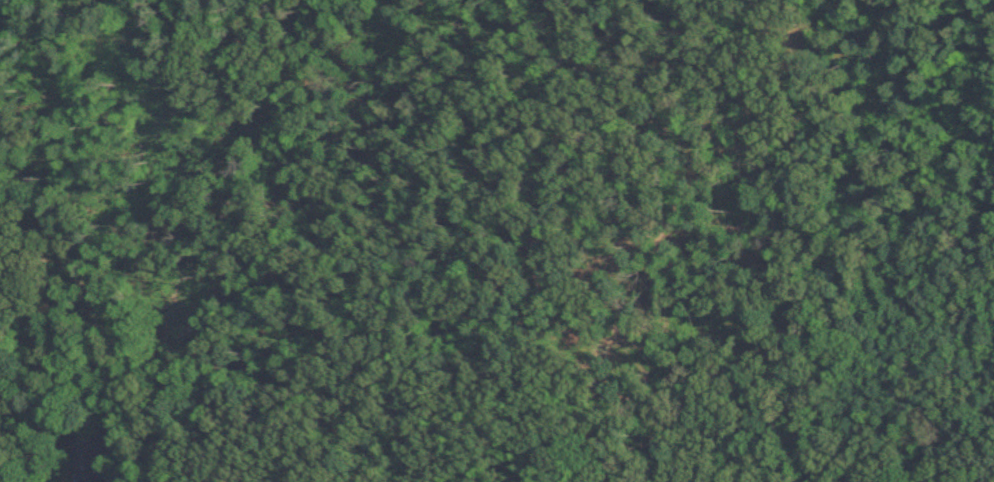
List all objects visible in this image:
building: (93, 455)
road: (118, 480)

